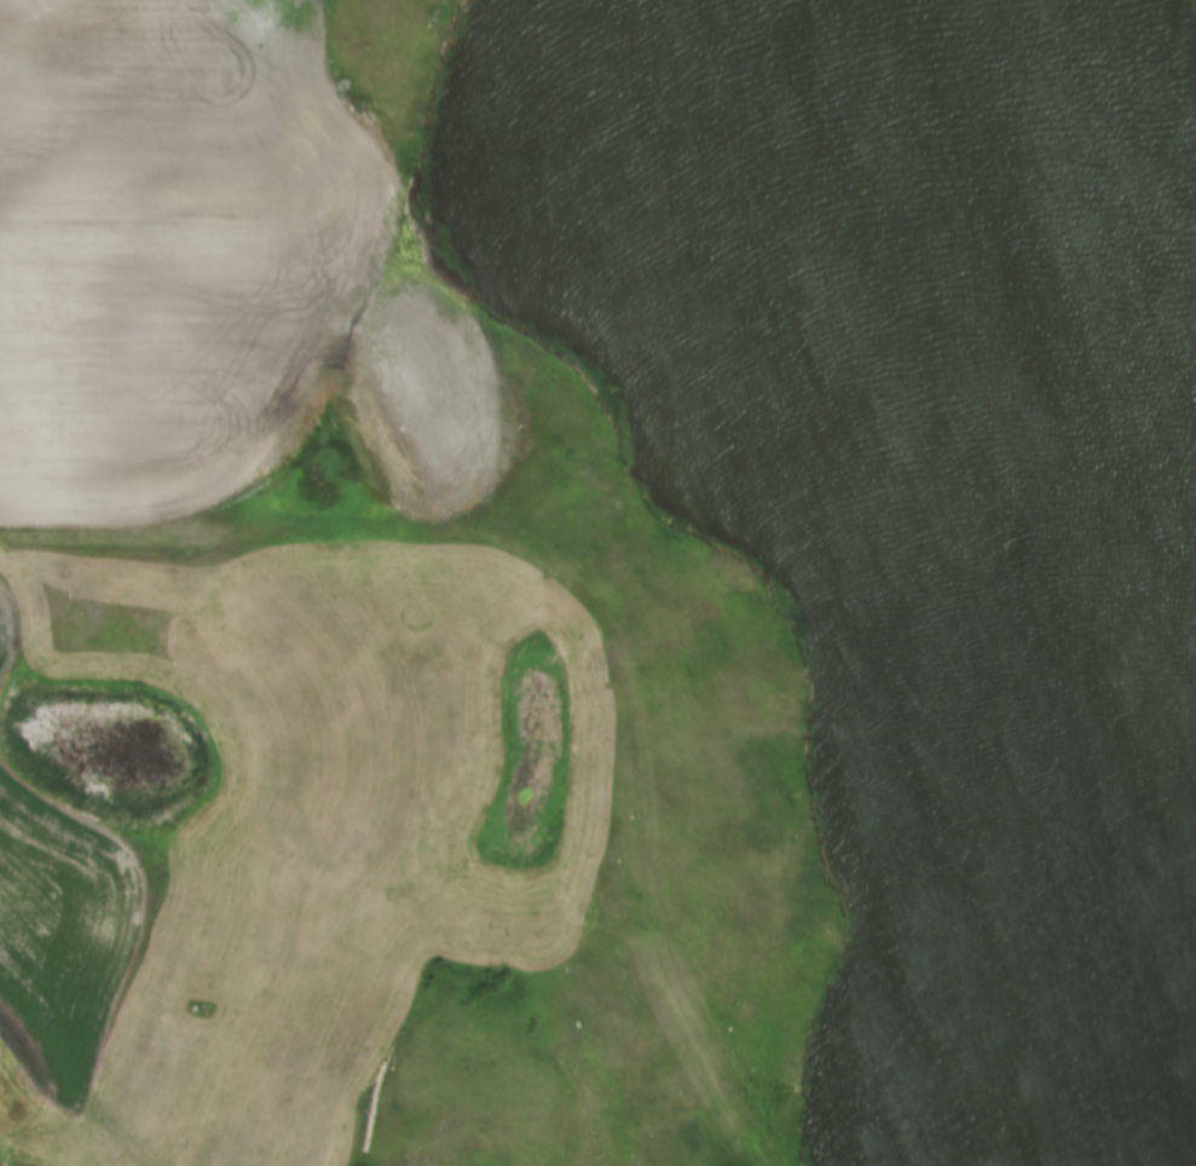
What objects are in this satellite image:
road: (596, 612)

